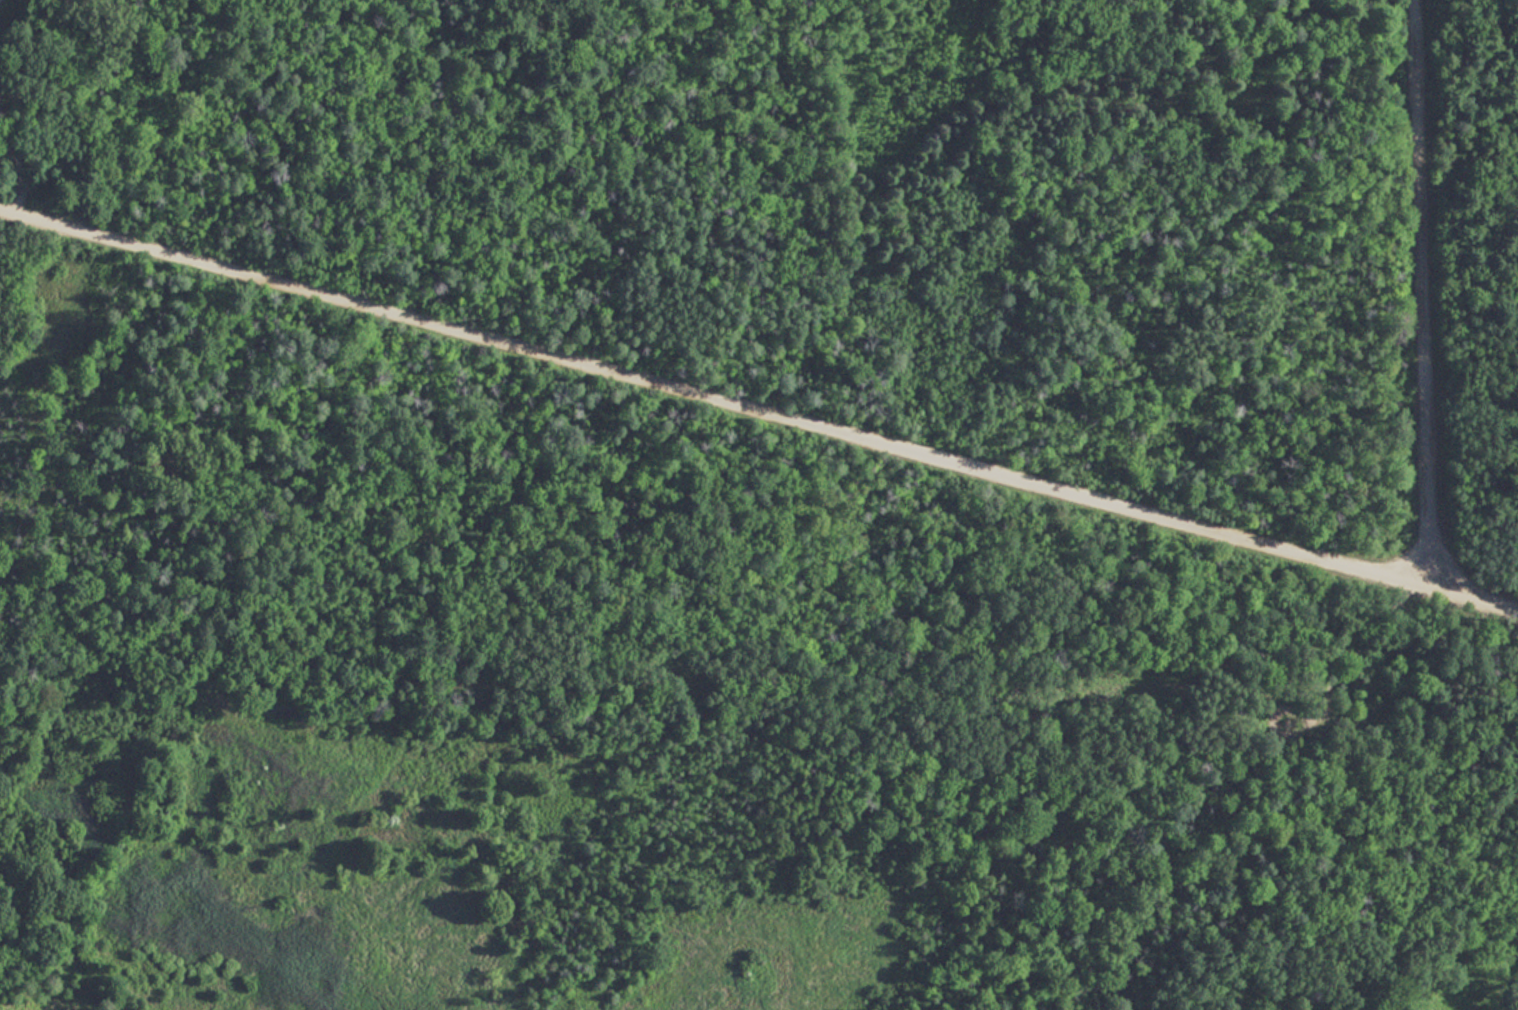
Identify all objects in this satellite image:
road: (1420, 291)
road: (758, 410)
park: (759, 505)

